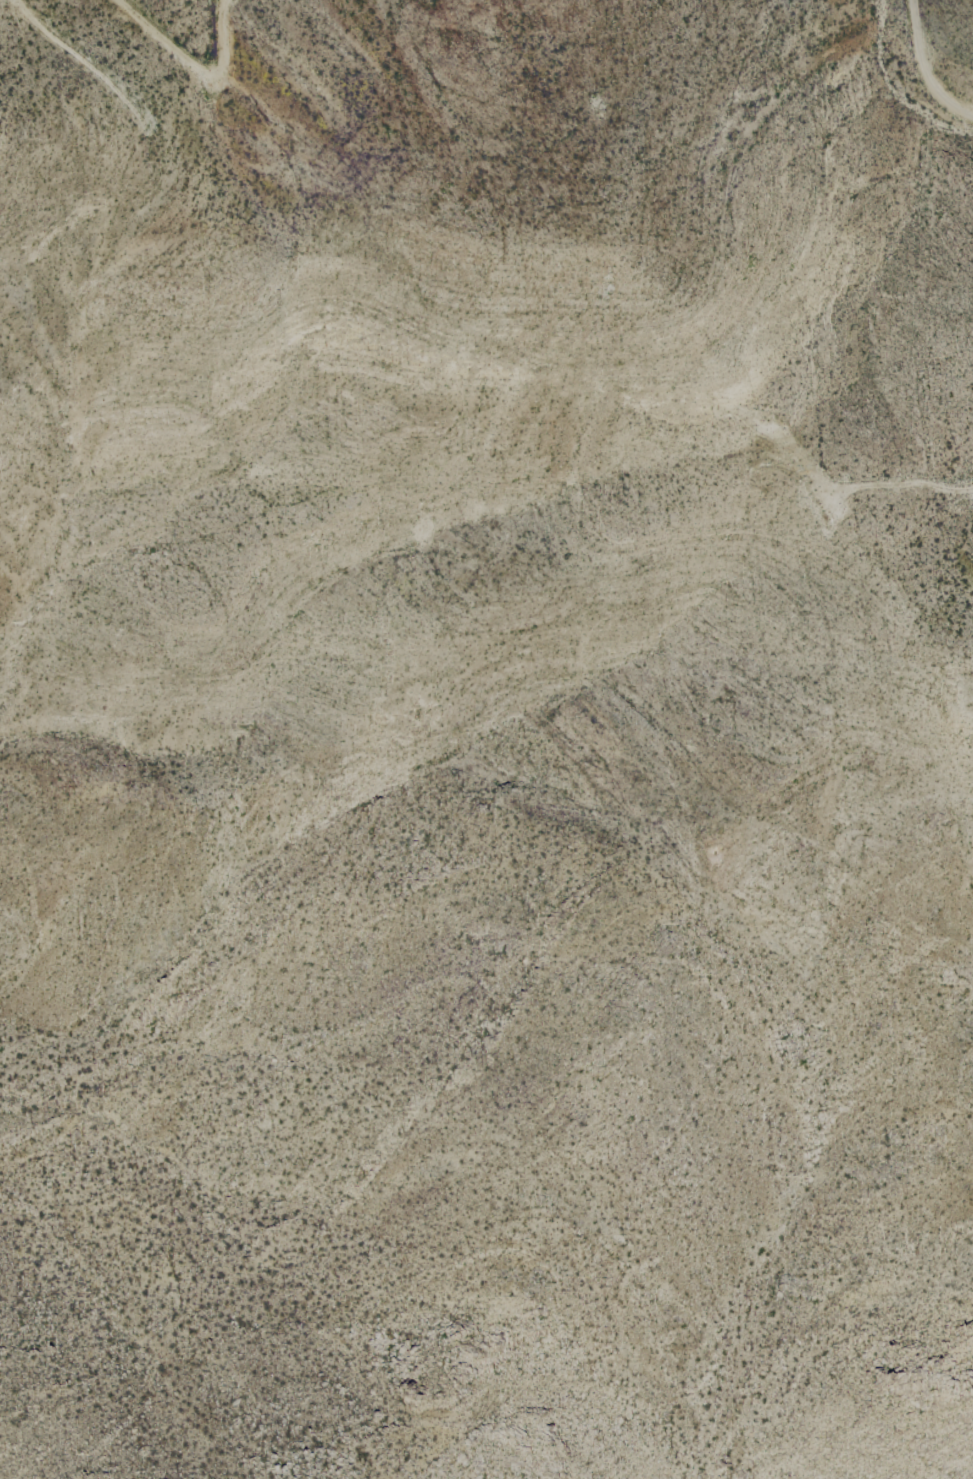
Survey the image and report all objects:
road: (925, 70)

